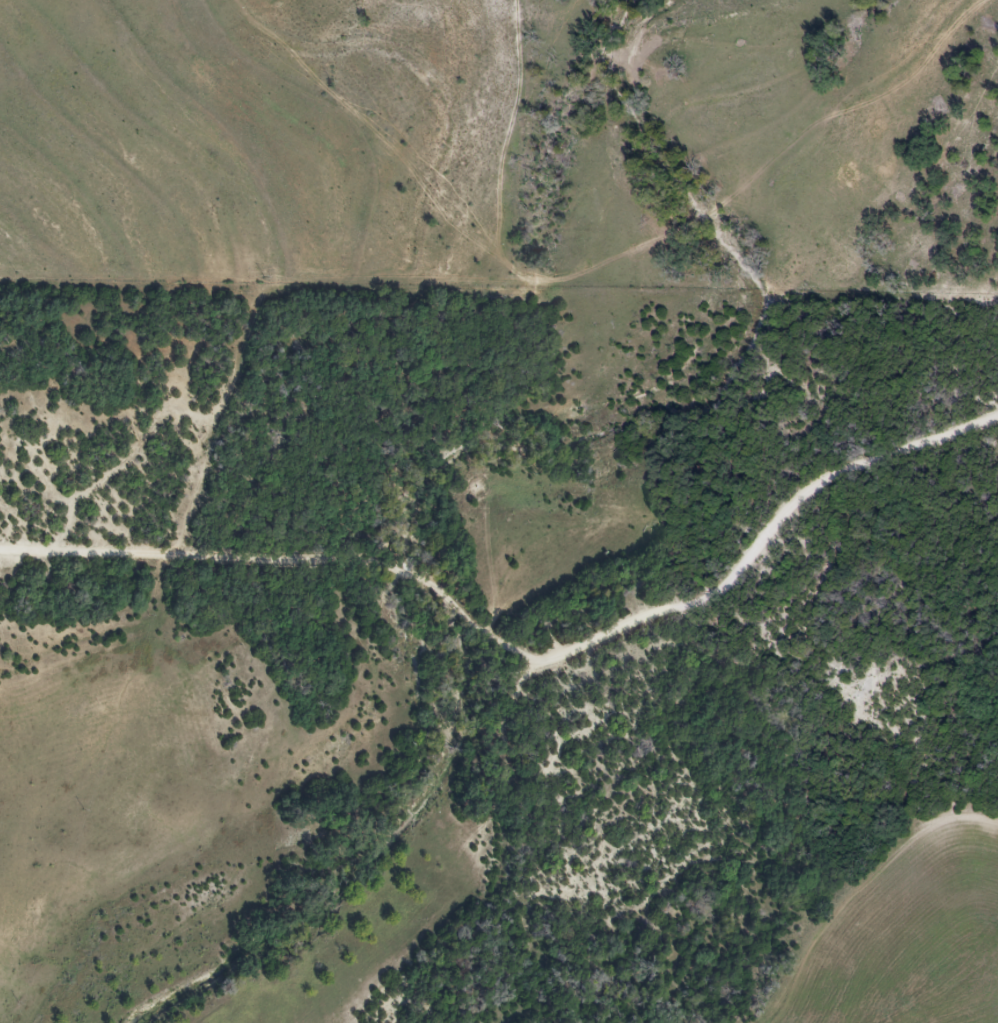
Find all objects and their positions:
road: (520, 624)

